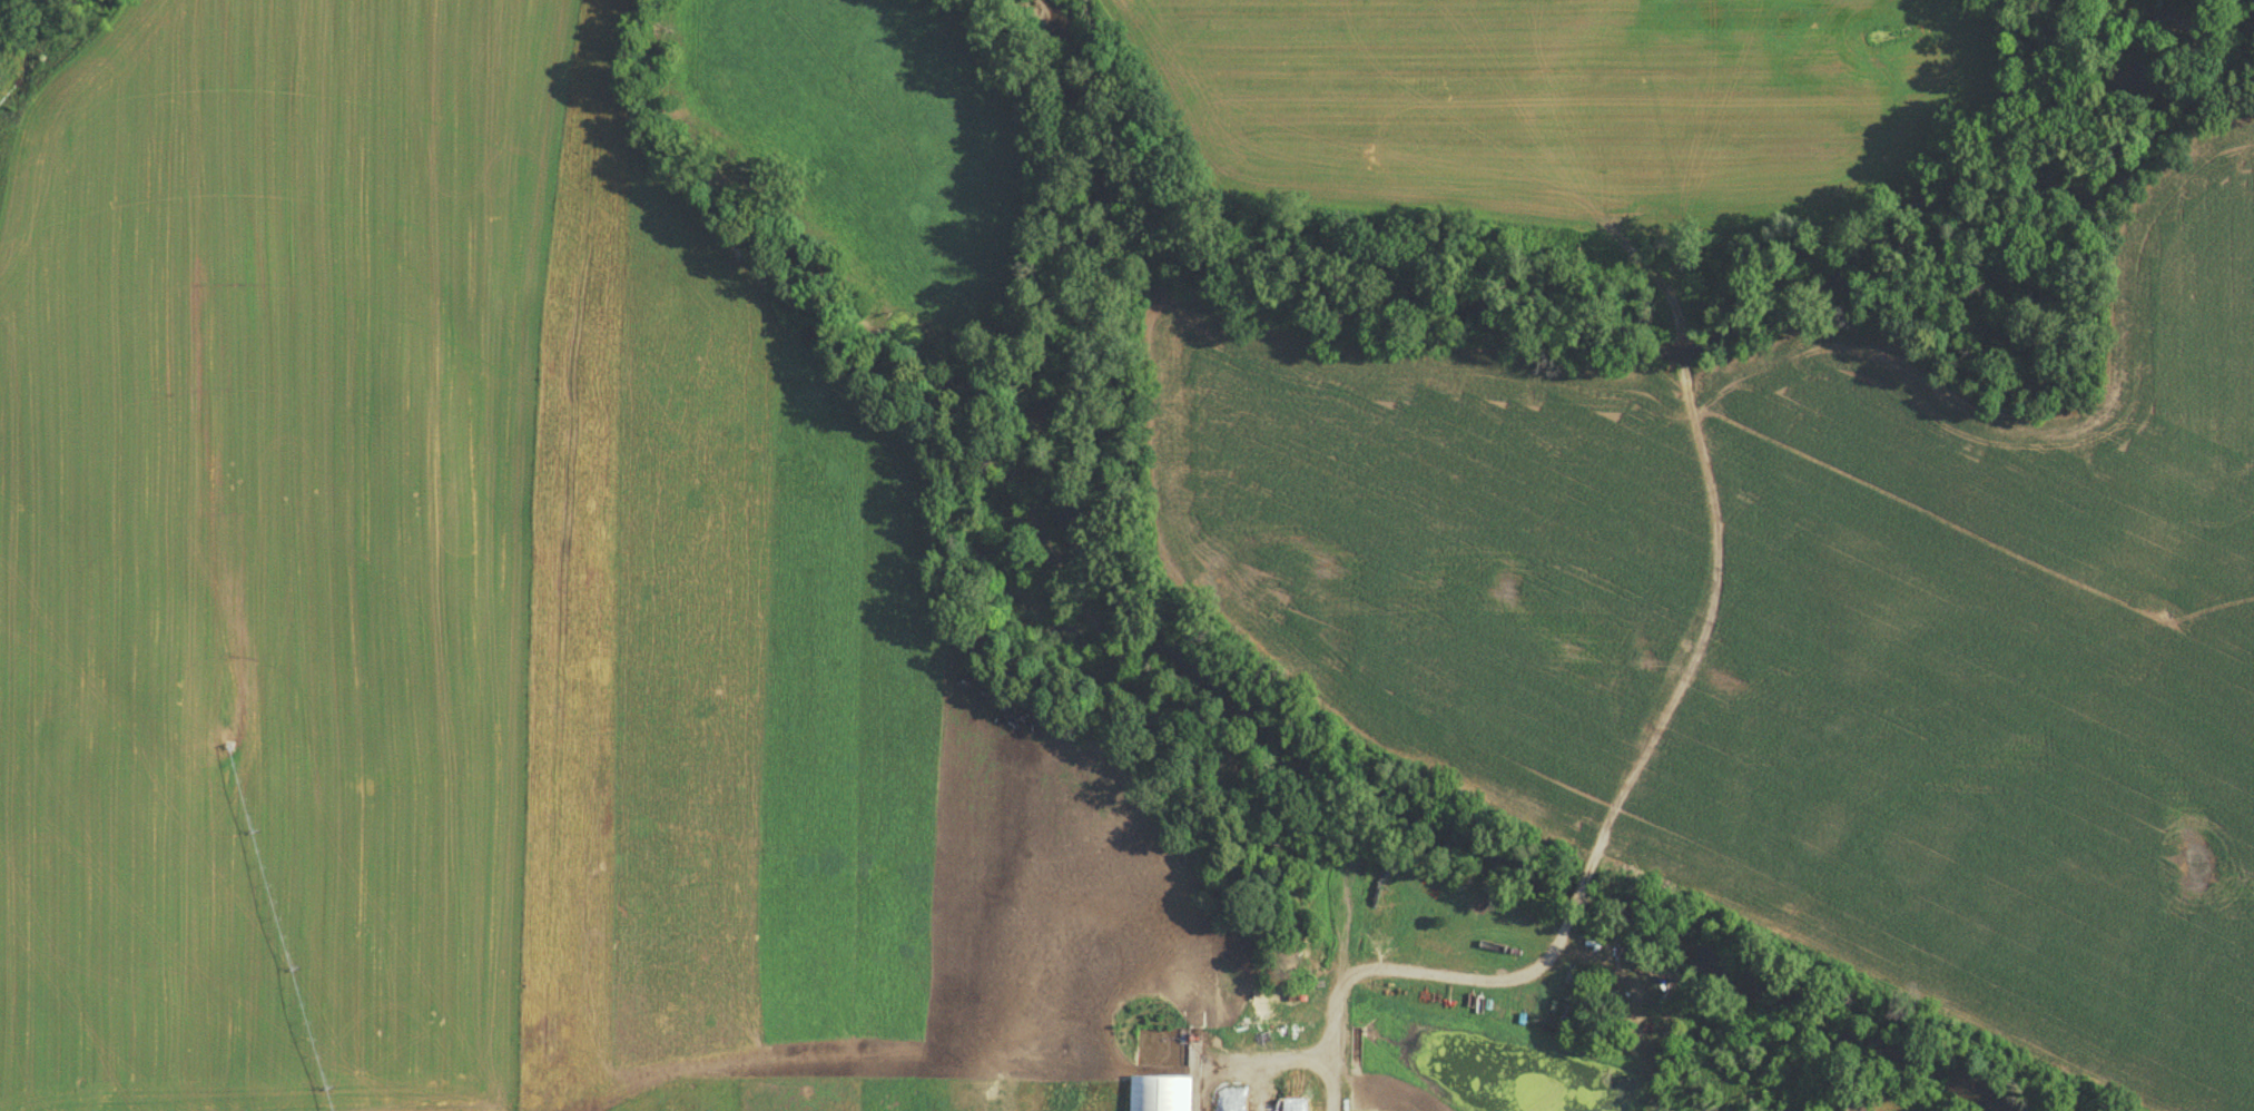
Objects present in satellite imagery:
river: (1290, 720)
building: (1164, 1093)

